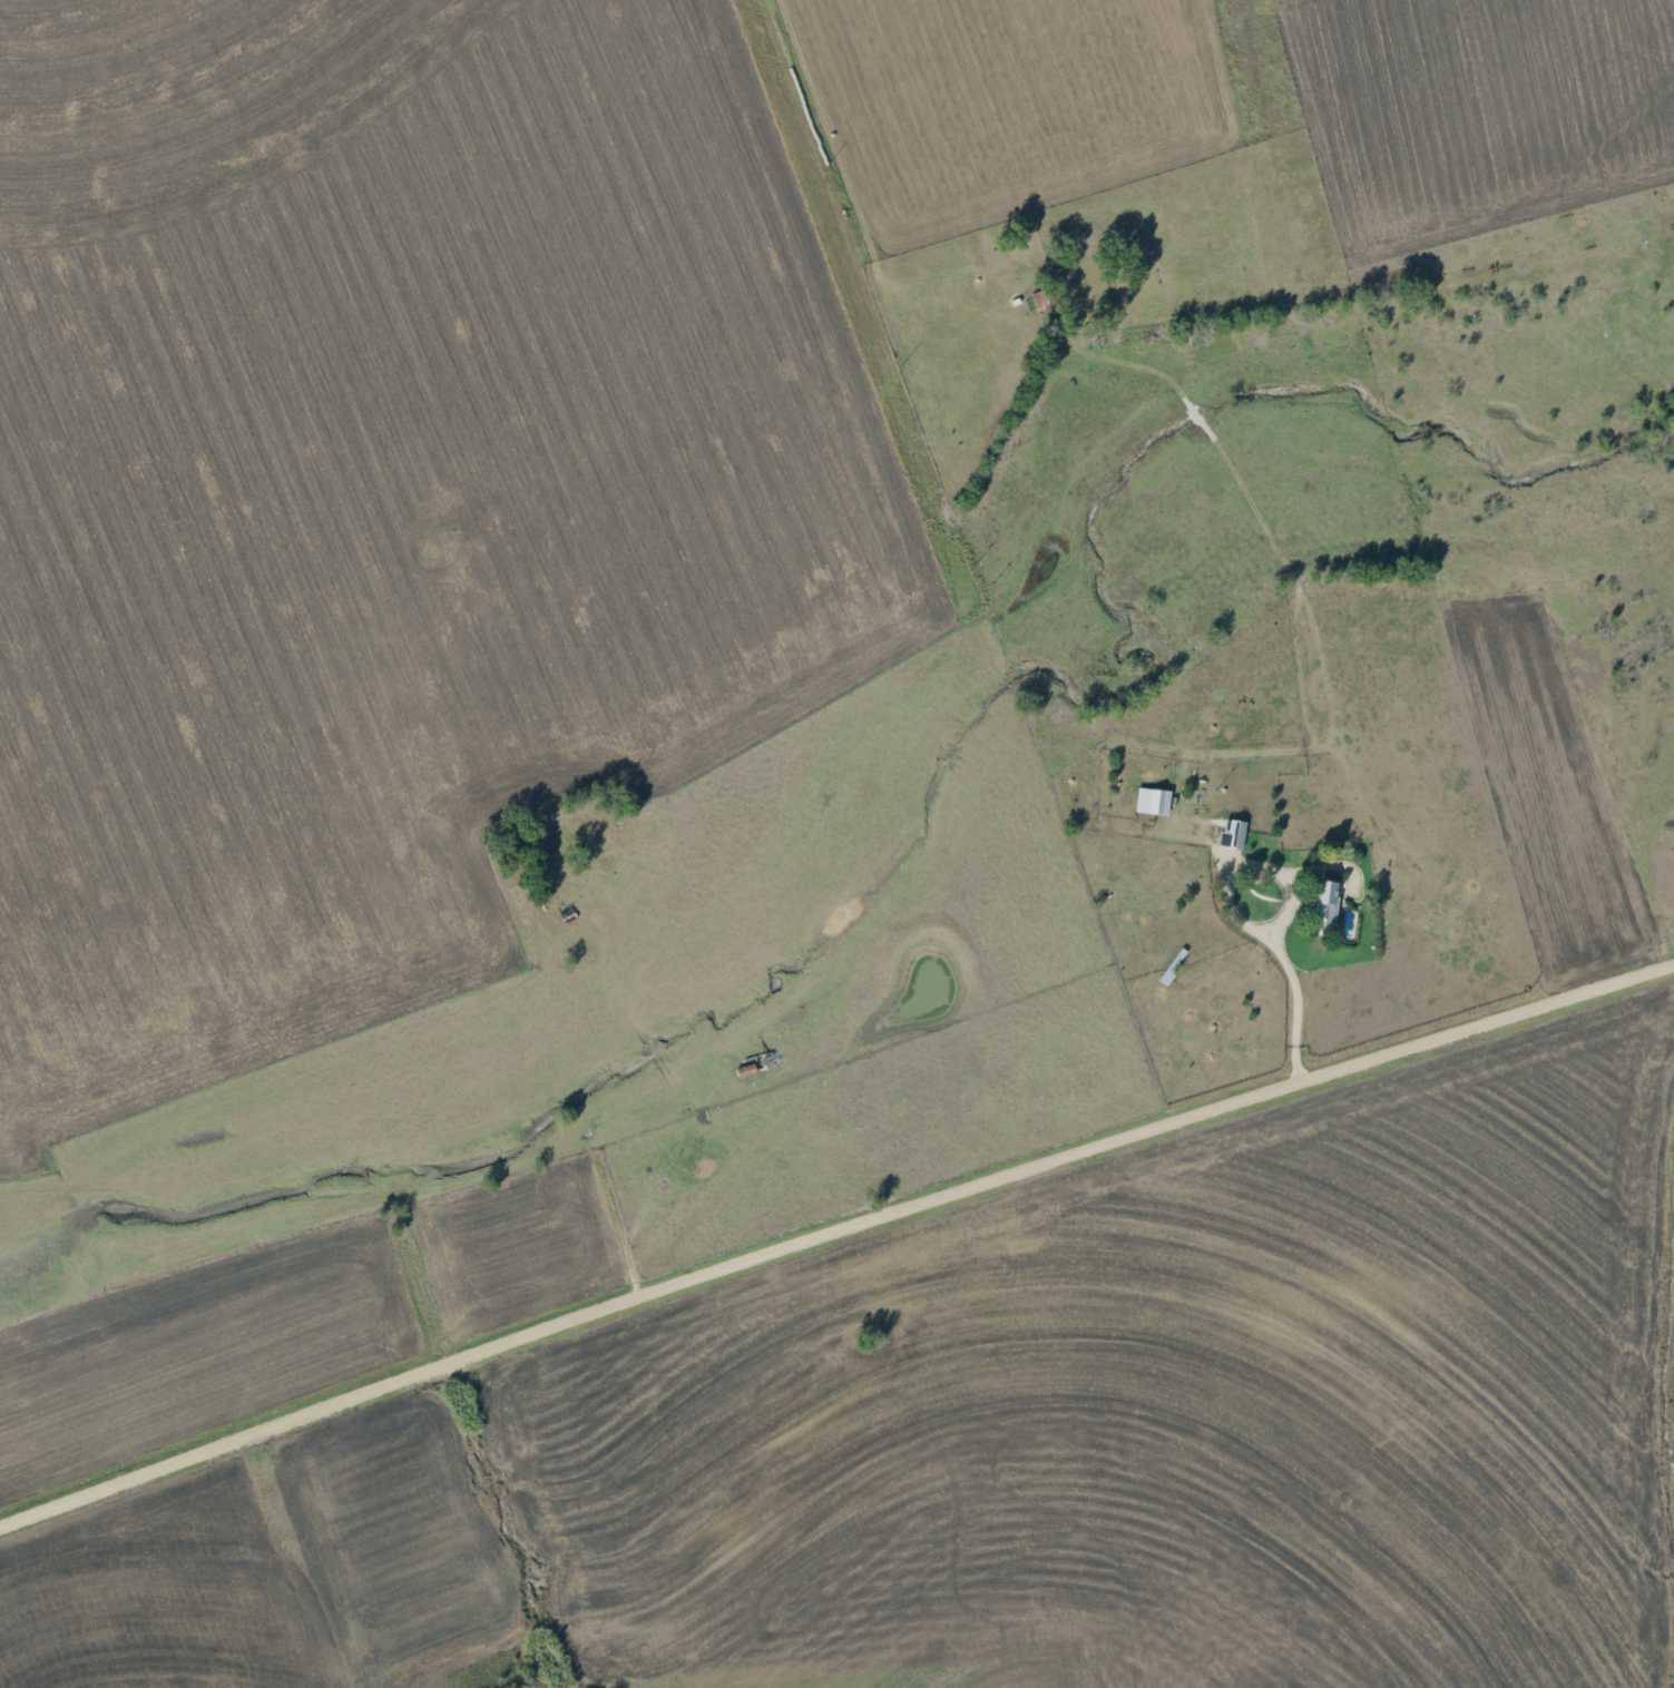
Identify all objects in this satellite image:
road: (1021, 100)
building: (1152, 802)
building: (1231, 834)
building: (1324, 902)
road: (1294, 989)
road: (831, 1234)

